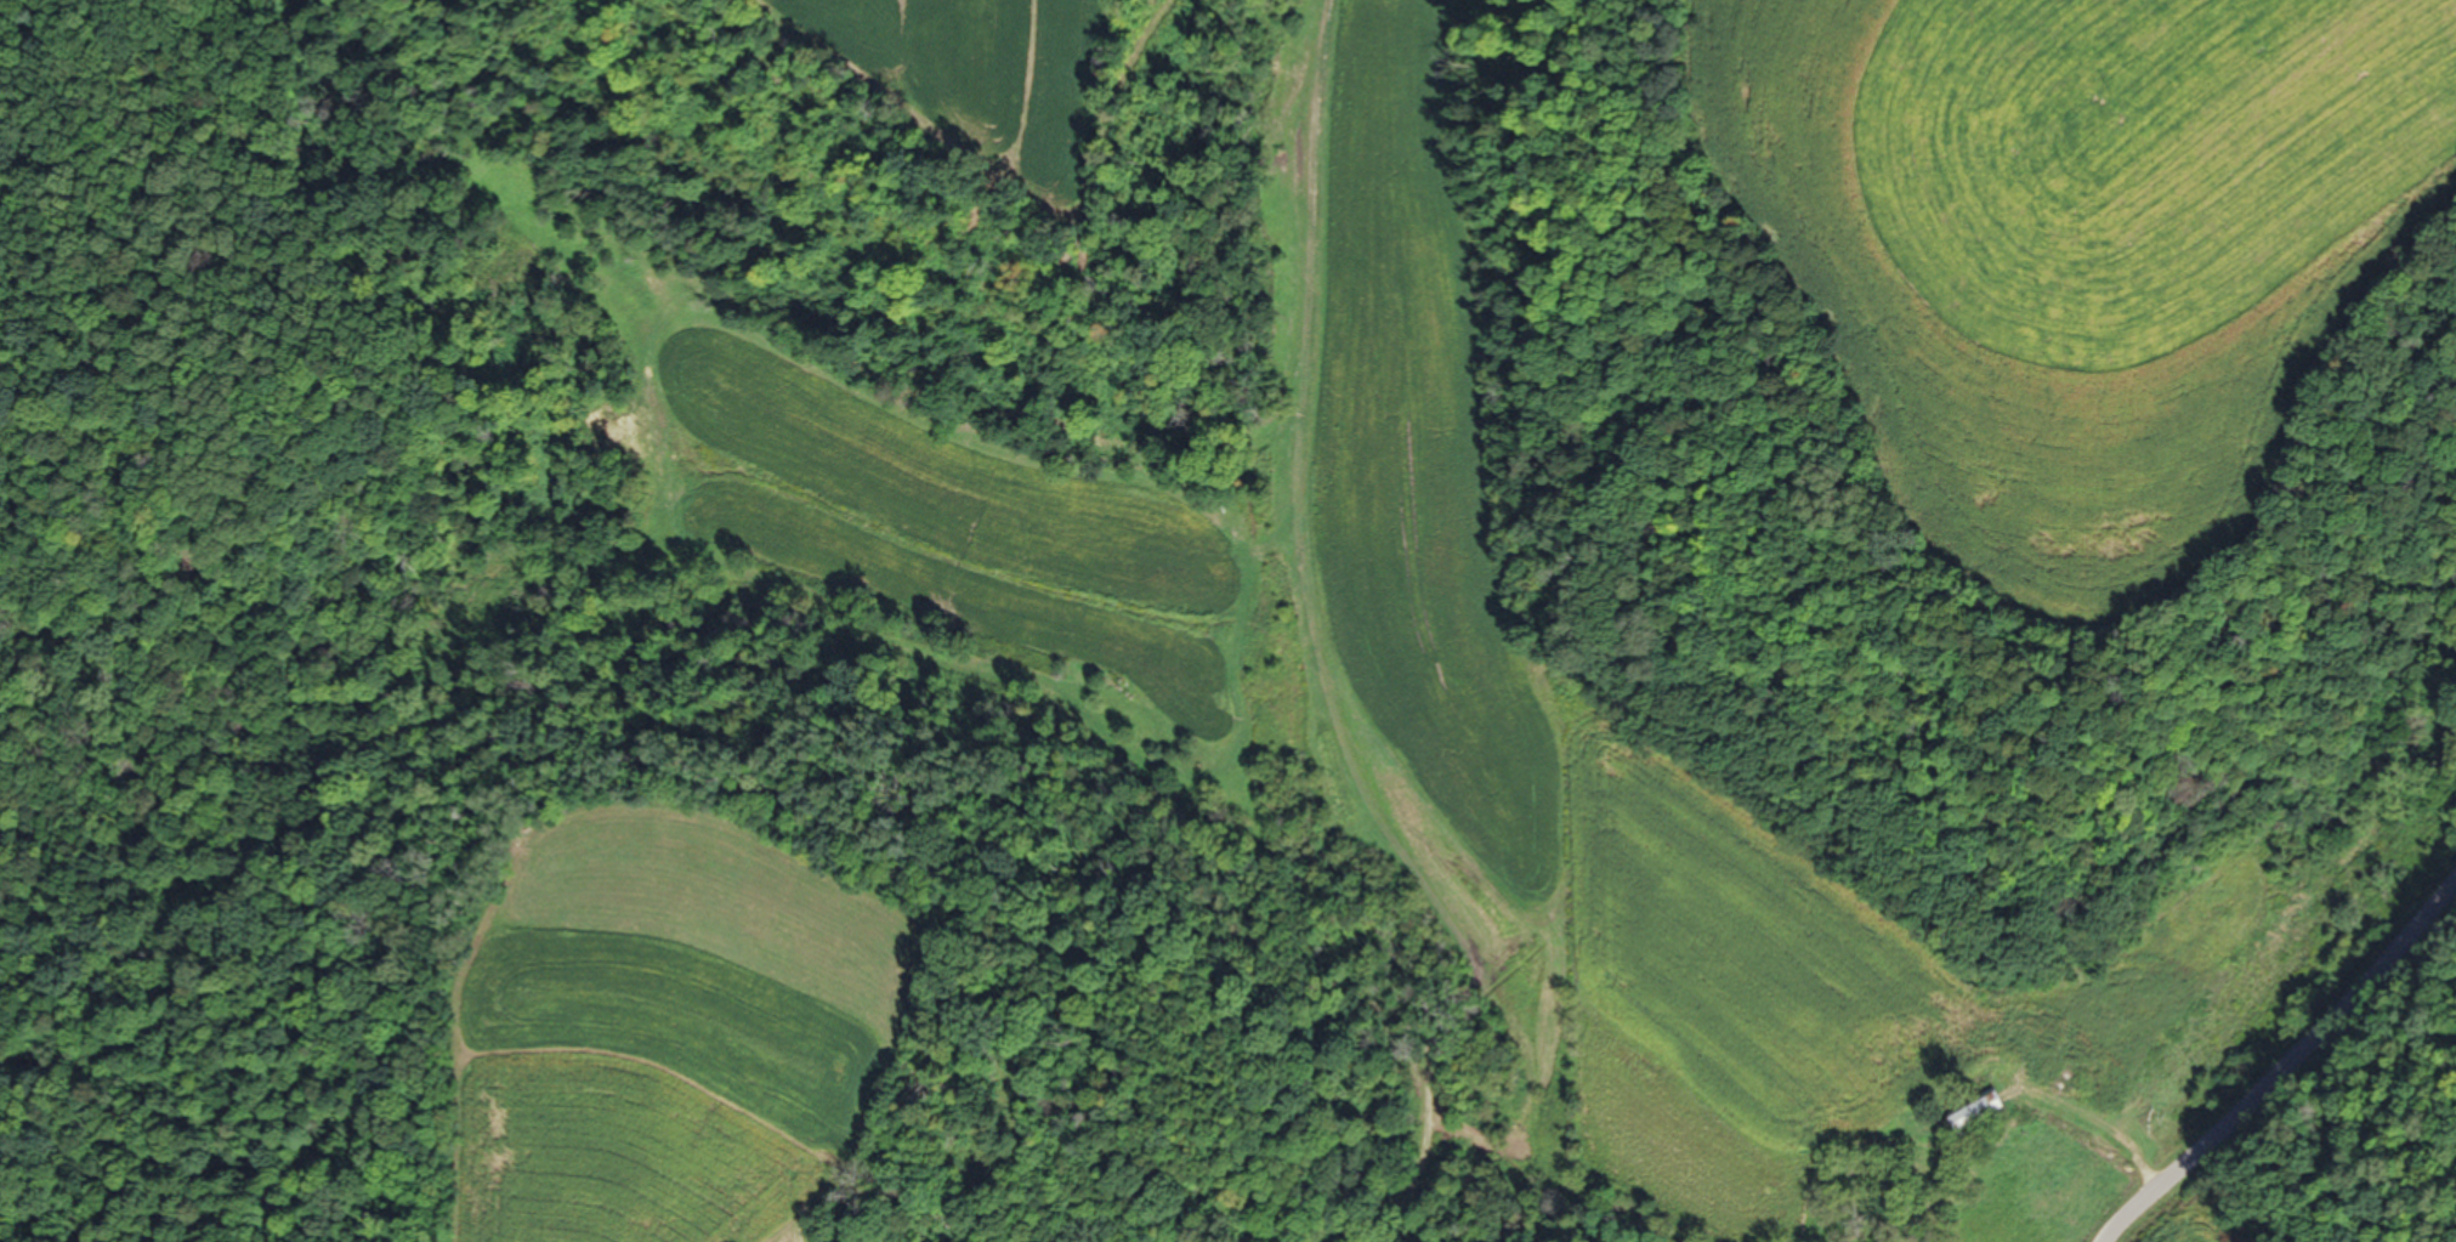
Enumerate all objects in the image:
road: (2287, 1064)
building: (1979, 1110)

